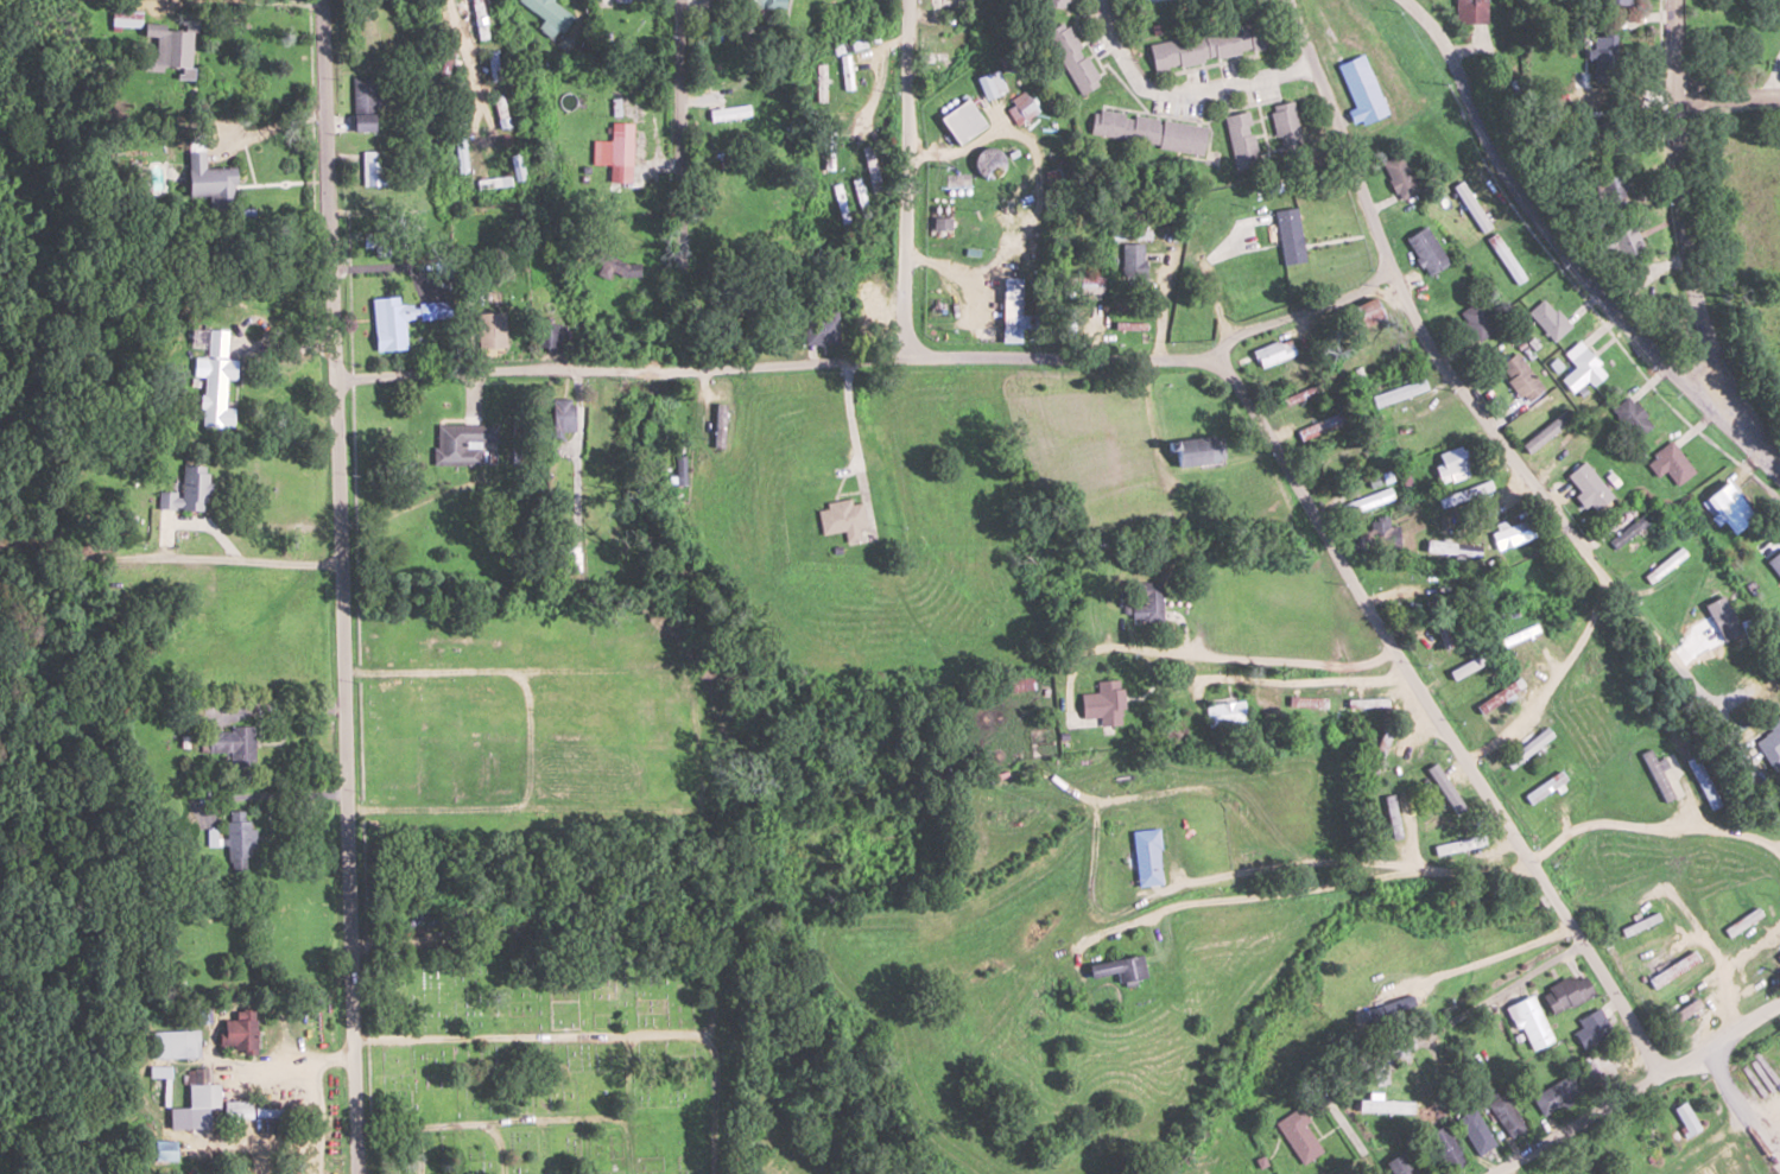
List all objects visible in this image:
building: (1605, 1)
building: (1059, 2)
building: (756, 4)
building: (1471, 11)
building: (549, 15)
building: (477, 19)
building: (1206, 45)
building: (937, 47)
building: (1075, 57)
road: (469, 61)
building: (493, 65)
building: (1602, 65)
building: (995, 82)
road: (1727, 85)
building: (1362, 88)
building: (362, 103)
building: (1022, 108)
building: (500, 110)
building: (728, 114)
building: (962, 121)
building: (1286, 126)
building: (1148, 131)
building: (1240, 140)
building: (619, 152)
building: (461, 154)
building: (370, 169)
building: (1400, 176)
road: (905, 177)
building: (207, 178)
road: (684, 184)
building: (1613, 192)
road: (1679, 203)
building: (940, 223)
building: (1290, 236)
building: (1627, 243)
road: (1187, 248)
road: (1572, 249)
building: (1426, 250)
building: (1505, 259)
building: (1133, 260)
building: (1079, 294)
building: (1129, 303)
building: (1013, 306)
road: (1297, 312)
building: (1364, 313)
building: (398, 319)
building: (1548, 319)
building: (1476, 321)
building: (822, 325)
building: (490, 330)
building: (550, 337)
road: (1431, 345)
building: (1273, 353)
road: (954, 355)
building: (1583, 372)
building: (215, 375)
road: (513, 375)
building: (1520, 377)
building: (1399, 393)
building: (1300, 394)
building: (716, 410)
building: (562, 414)
building: (1630, 417)
building: (1323, 425)
building: (1425, 427)
building: (462, 442)
building: (1193, 451)
building: (1673, 462)
building: (1343, 463)
building: (1451, 465)
road: (556, 475)
building: (1585, 488)
building: (186, 491)
building: (1455, 497)
building: (1368, 501)
building: (1728, 508)
building: (841, 519)
building: (1628, 532)
building: (1513, 533)
building: (1379, 537)
building: (1775, 563)
building: (1667, 564)
building: (1389, 572)
road: (343, 586)
building: (1519, 588)
building: (1147, 603)
building: (1569, 610)
building: (1723, 616)
building: (142, 641)
road: (1291, 659)
building: (1467, 667)
building: (1586, 667)
road: (1287, 679)
building: (1497, 696)
building: (1103, 705)
building: (1224, 713)
road: (1440, 718)
building: (232, 743)
building: (1769, 743)
building: (1527, 748)
building: (1379, 753)
building: (1657, 775)
building: (1702, 782)
building: (1546, 788)
building: (1443, 793)
building: (1392, 814)
building: (240, 840)
building: (1448, 848)
building: (1146, 857)
building: (1640, 921)
building: (1743, 922)
building: (1779, 952)
building: (1117, 966)
building: (1673, 969)
road: (1503, 989)
building: (1567, 992)
building: (1686, 1010)
building: (1531, 1022)
building: (1592, 1027)
building: (239, 1030)
building: (175, 1043)
park: (560, 1055)
building: (1600, 1072)
building: (1426, 1075)
road: (1636, 1089)
building: (1559, 1093)
building: (202, 1094)
building: (242, 1109)
building: (1507, 1115)
building: (1686, 1118)
building: (1476, 1131)
building: (1300, 1135)
building: (1446, 1147)
building: (163, 1149)
building: (1401, 1165)

